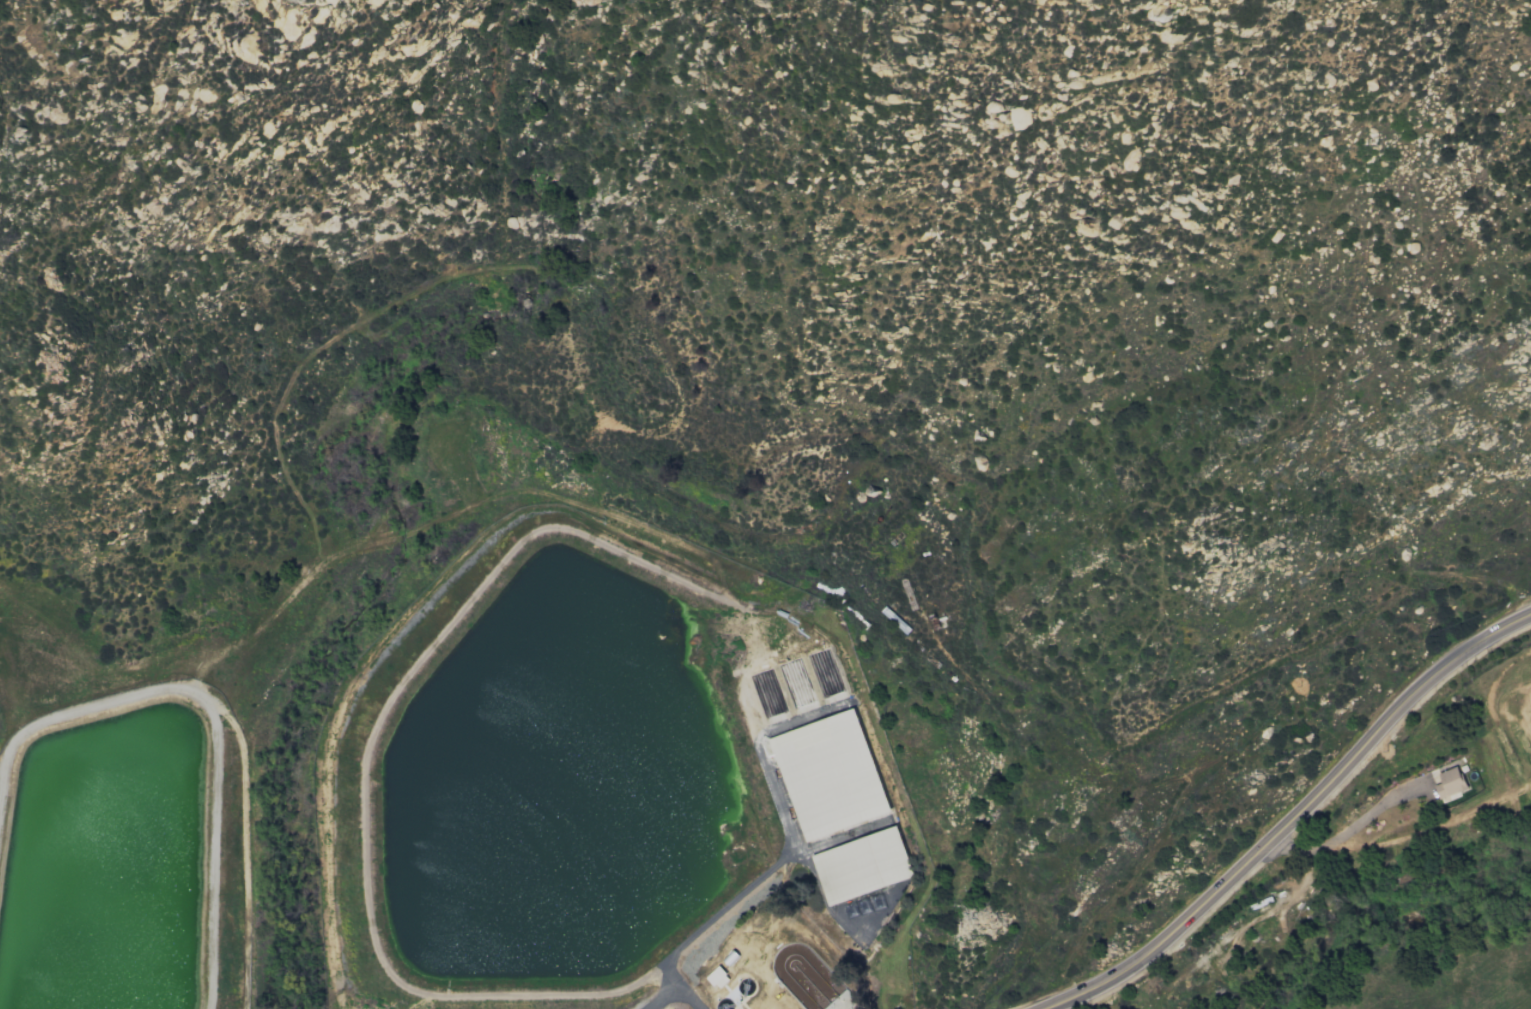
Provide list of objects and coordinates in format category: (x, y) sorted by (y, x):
building: (831, 778)
building: (1449, 782)
road: (1292, 816)
road: (1345, 831)
building: (861, 865)
road: (744, 886)
building: (717, 977)
road: (673, 993)

